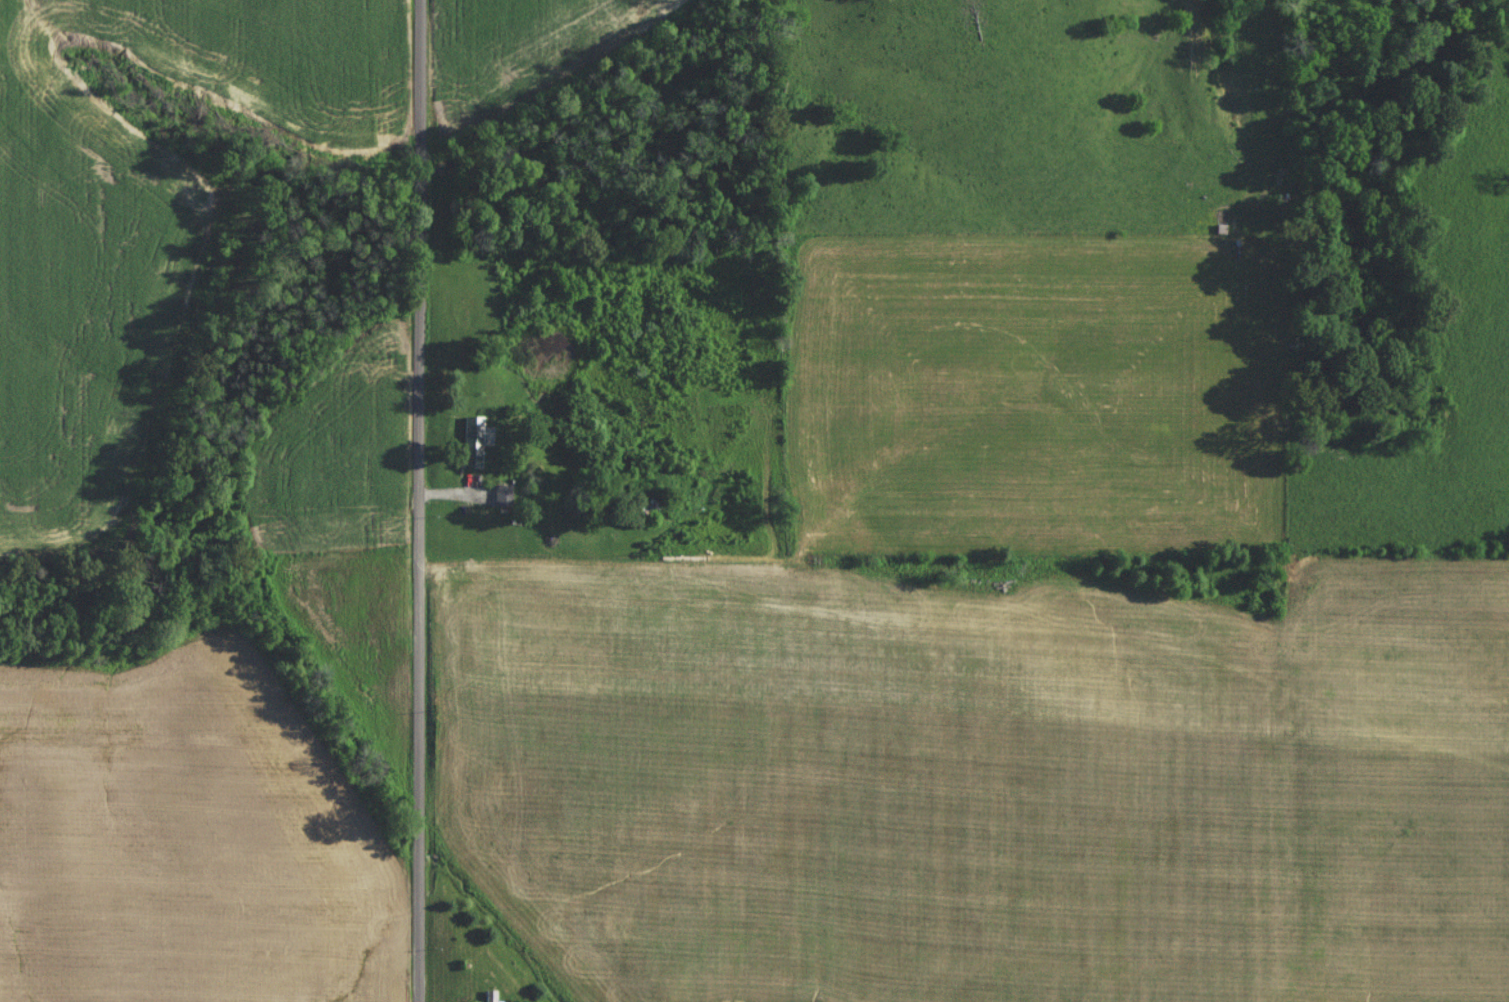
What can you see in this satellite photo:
building: (468, 447)
building: (500, 499)
road: (422, 501)
building: (487, 998)

